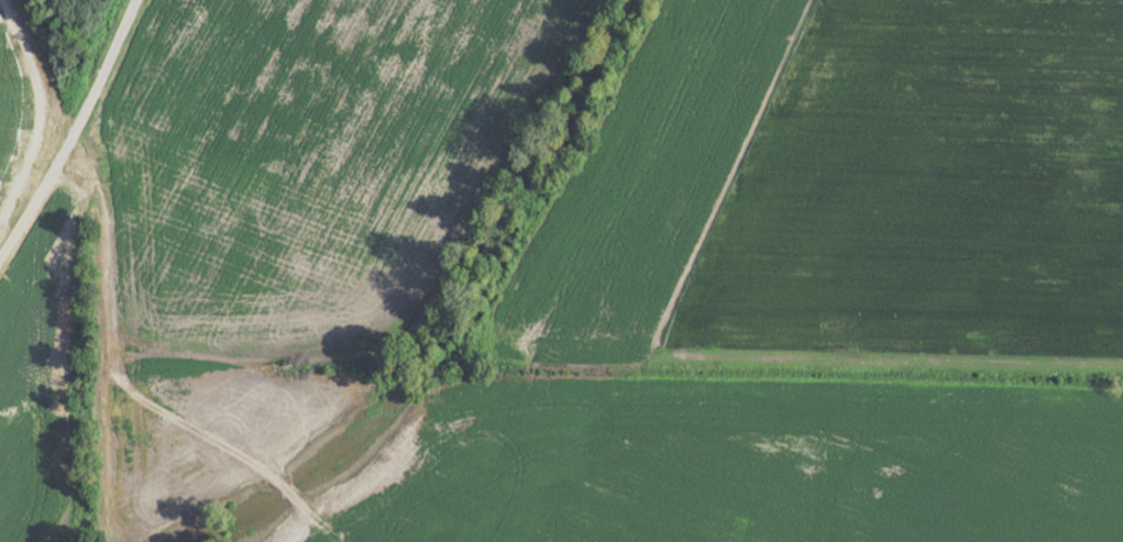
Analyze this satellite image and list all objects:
road: (73, 133)

